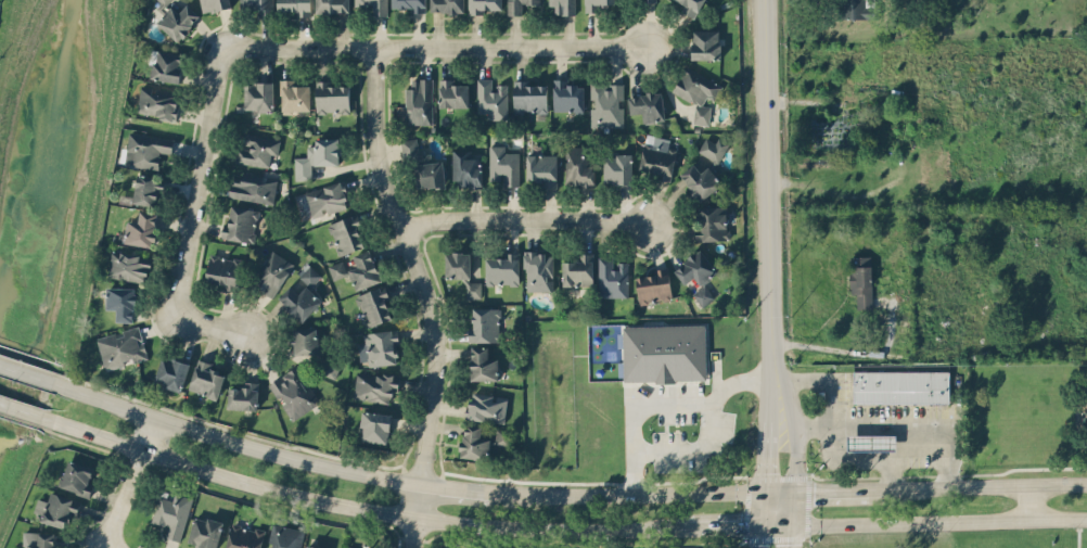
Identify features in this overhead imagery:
building: (161, 1)
building: (214, 4)
building: (517, 4)
building: (599, 4)
building: (687, 4)
building: (259, 5)
building: (332, 5)
building: (375, 5)
building: (408, 5)
building: (447, 5)
building: (485, 5)
building: (561, 5)
building: (294, 7)
building: (856, 9)
building: (178, 21)
building: (705, 42)
road: (436, 47)
building: (165, 64)
building: (453, 91)
building: (698, 91)
building: (567, 93)
building: (258, 94)
building: (295, 95)
building: (332, 95)
building: (493, 95)
building: (529, 95)
building: (419, 100)
building: (157, 102)
building: (606, 103)
building: (647, 104)
building: (145, 149)
building: (257, 149)
building: (317, 156)
building: (656, 157)
building: (423, 164)
building: (503, 164)
building: (579, 165)
building: (617, 167)
river: (43, 168)
building: (465, 168)
building: (540, 168)
building: (704, 168)
building: (252, 187)
building: (148, 189)
building: (327, 197)
road: (767, 208)
road: (192, 216)
road: (522, 218)
building: (239, 222)
building: (712, 222)
building: (142, 228)
building: (347, 233)
building: (129, 265)
building: (501, 267)
building: (695, 267)
building: (357, 269)
building: (577, 269)
building: (223, 270)
building: (461, 270)
building: (538, 270)
building: (271, 271)
building: (309, 273)
building: (612, 276)
building: (860, 279)
building: (652, 284)
road: (429, 293)
building: (703, 294)
building: (299, 301)
building: (122, 302)
building: (374, 305)
building: (484, 323)
building: (305, 339)
building: (122, 346)
building: (379, 346)
building: (664, 352)
road: (852, 352)
building: (482, 362)
building: (329, 365)
building: (171, 371)
road: (28, 374)
building: (206, 378)
road: (816, 380)
building: (375, 384)
building: (900, 385)
building: (293, 391)
building: (243, 395)
road: (665, 402)
building: (486, 406)
road: (23, 411)
road: (888, 419)
building: (374, 424)
road: (236, 441)
building: (482, 441)
building: (871, 441)
road: (689, 450)
road: (764, 451)
road: (860, 456)
road: (796, 468)
building: (78, 476)
road: (132, 482)
road: (979, 487)
road: (453, 488)
road: (779, 488)
traffic signals: (796, 488)
traffic signals: (763, 489)
road: (834, 489)
road: (625, 494)
road: (1026, 504)
road: (760, 507)
road: (359, 508)
building: (57, 509)
building: (172, 512)
road: (939, 522)
traffic signals: (759, 524)
road: (776, 524)
traffic signals: (793, 524)
road: (721, 525)
building: (204, 531)
building: (243, 536)
building: (284, 536)
road: (758, 536)
road: (791, 536)
building: (44, 540)
building: (314, 546)
building: (349, 547)

